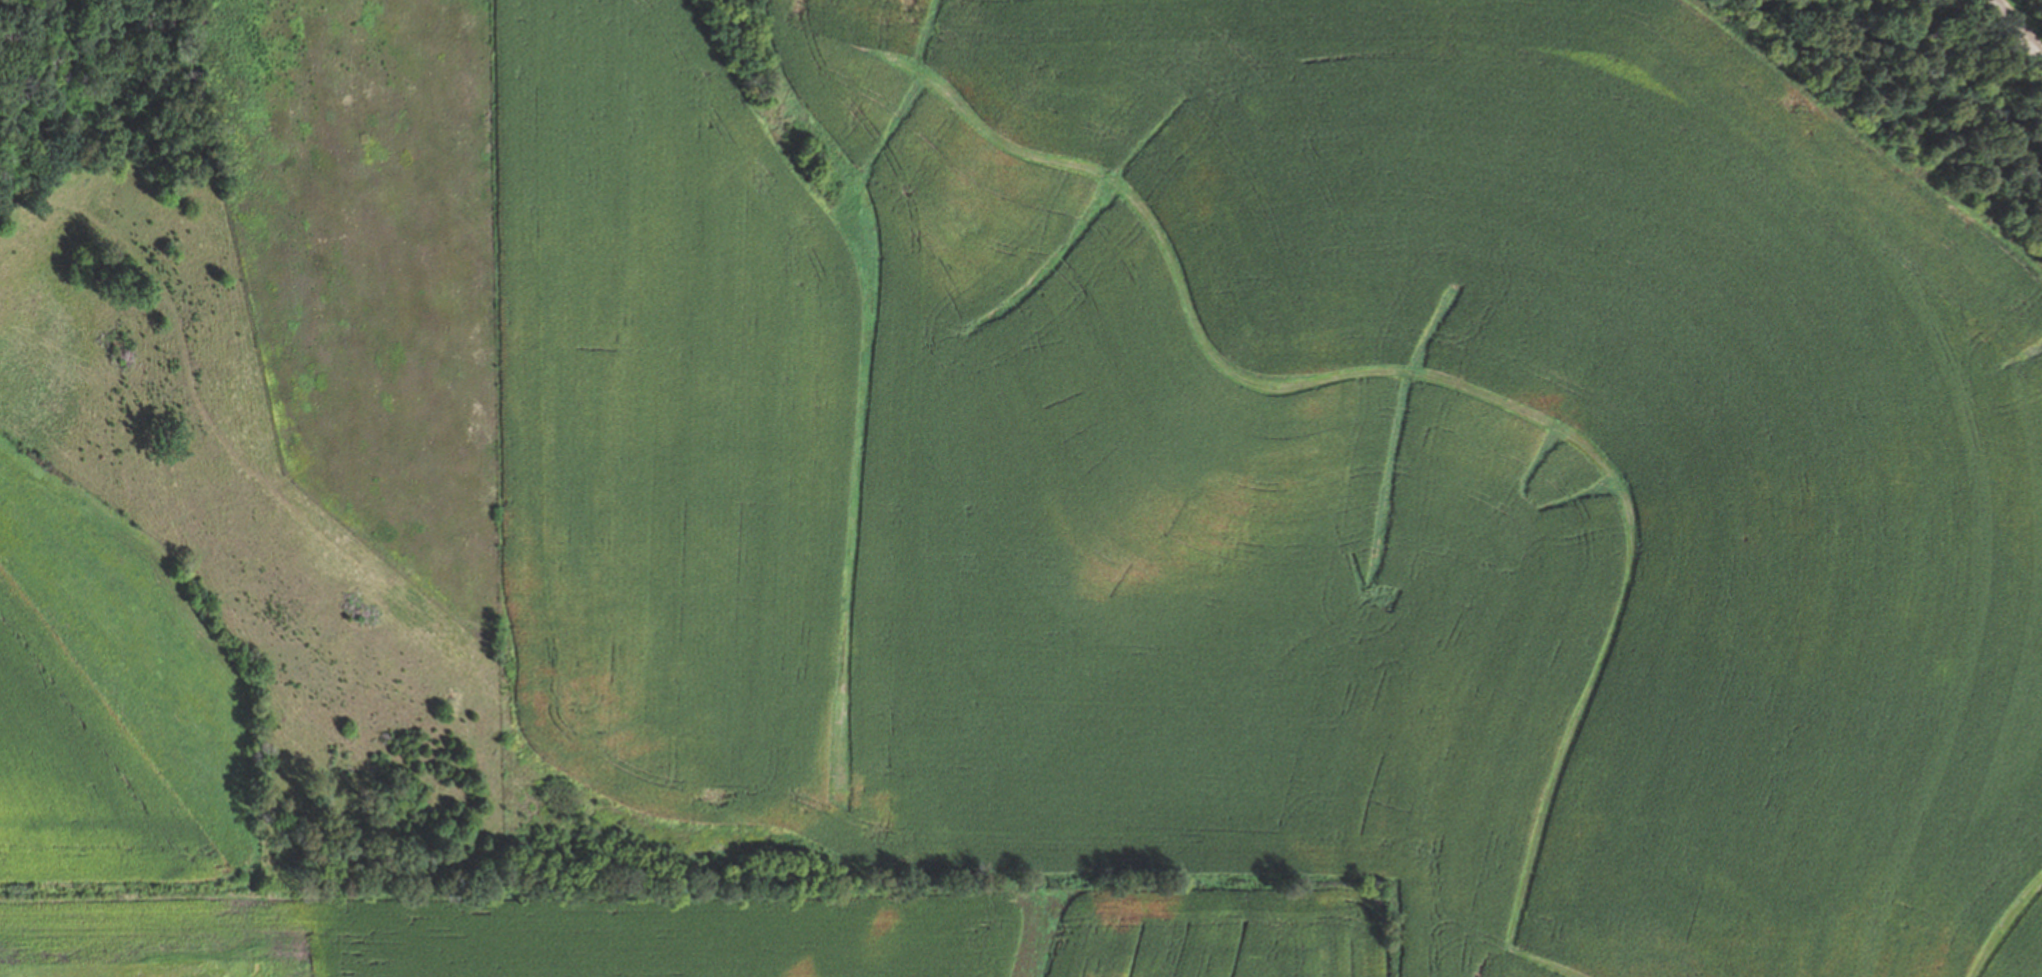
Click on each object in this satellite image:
road: (2016, 30)

